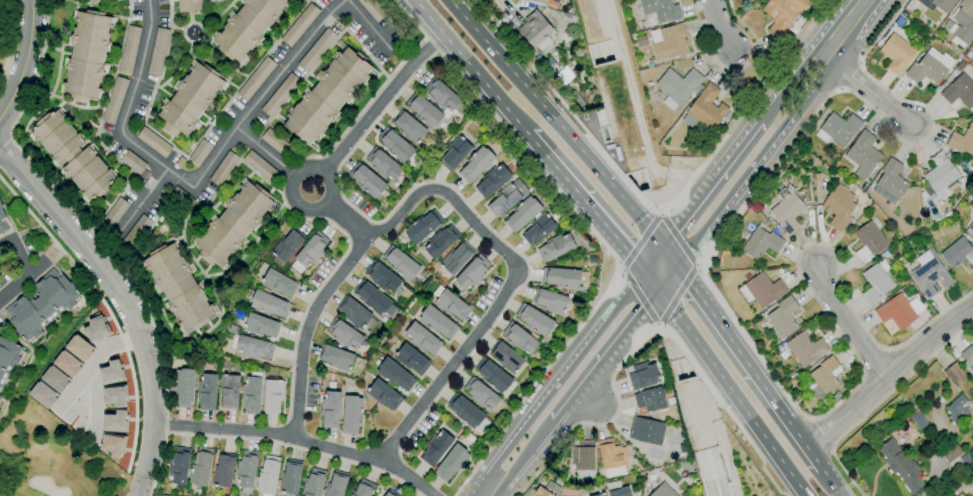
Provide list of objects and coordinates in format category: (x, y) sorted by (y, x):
building: (94, 0)
building: (543, 2)
building: (937, 4)
building: (189, 6)
building: (373, 9)
building: (661, 10)
building: (783, 14)
road: (427, 17)
building: (962, 22)
building: (299, 24)
road: (719, 24)
building: (248, 26)
road: (370, 26)
road: (842, 27)
building: (536, 30)
park: (9, 40)
building: (668, 42)
road: (13, 44)
building: (972, 48)
building: (129, 49)
building: (317, 50)
railway: (606, 51)
building: (158, 52)
building: (897, 53)
railway: (595, 54)
building: (86, 55)
road: (23, 58)
building: (930, 67)
road: (758, 68)
road: (800, 69)
road: (734, 71)
building: (256, 79)
building: (678, 86)
road: (866, 88)
road: (491, 90)
building: (959, 91)
building: (442, 94)
building: (280, 95)
building: (327, 96)
road: (556, 97)
building: (190, 99)
building: (114, 100)
road: (380, 102)
road: (772, 105)
building: (705, 109)
building: (424, 110)
road: (738, 120)
road: (553, 121)
building: (409, 127)
building: (839, 129)
building: (962, 140)
building: (153, 142)
road: (5, 143)
building: (278, 144)
building: (396, 145)
building: (200, 152)
road: (265, 153)
building: (455, 153)
building: (73, 155)
building: (863, 155)
building: (133, 162)
road: (754, 162)
building: (383, 164)
building: (476, 164)
building: (260, 166)
building: (223, 169)
road: (309, 170)
building: (144, 174)
building: (939, 176)
railway: (628, 177)
building: (367, 179)
building: (891, 179)
railway: (641, 180)
road: (196, 181)
building: (492, 181)
road: (711, 183)
building: (181, 198)
building: (506, 198)
road: (139, 203)
building: (971, 204)
building: (1, 206)
building: (840, 206)
road: (591, 208)
building: (787, 209)
building: (522, 214)
building: (113, 215)
road: (347, 220)
building: (234, 223)
building: (3, 224)
building: (423, 227)
building: (970, 229)
building: (538, 230)
building: (136, 231)
road: (677, 238)
road: (96, 239)
building: (869, 239)
road: (639, 240)
building: (441, 241)
road: (599, 241)
building: (761, 243)
building: (288, 244)
traffic signals: (662, 244)
parking lot: (27, 245)
building: (555, 247)
road: (60, 250)
road: (106, 250)
building: (309, 252)
building: (958, 253)
road: (669, 255)
road: (652, 257)
building: (455, 259)
building: (401, 264)
traffic signals: (677, 266)
parking lot: (6, 268)
road: (22, 270)
road: (35, 270)
traffic signals: (642, 271)
building: (472, 272)
building: (929, 274)
building: (383, 277)
building: (564, 277)
road: (667, 279)
road: (650, 281)
building: (876, 282)
building: (279, 283)
road: (511, 283)
building: (178, 287)
building: (761, 290)
traffic signals: (658, 292)
road: (676, 296)
road: (639, 297)
building: (374, 299)
building: (550, 301)
road: (125, 303)
building: (267, 303)
building: (450, 303)
building: (41, 305)
road: (108, 310)
building: (899, 311)
building: (356, 313)
building: (784, 317)
building: (534, 319)
road: (732, 320)
building: (437, 322)
road: (847, 323)
building: (261, 325)
road: (306, 328)
building: (94, 330)
building: (345, 334)
building: (422, 338)
building: (520, 339)
building: (252, 347)
building: (79, 348)
building: (806, 348)
road: (604, 355)
building: (968, 356)
building: (337, 357)
building: (506, 357)
building: (8, 358)
building: (411, 359)
road: (92, 364)
road: (748, 364)
road: (25, 365)
railway: (678, 370)
building: (109, 371)
railway: (690, 373)
building: (955, 374)
building: (395, 375)
building: (493, 375)
building: (644, 375)
road: (889, 376)
building: (54, 379)
building: (824, 379)
road: (558, 380)
building: (184, 387)
building: (207, 391)
building: (229, 391)
road: (730, 393)
building: (252, 394)
building: (384, 394)
building: (481, 394)
building: (0, 396)
building: (273, 396)
road: (586, 396)
building: (650, 400)
road: (879, 401)
road: (95, 402)
road: (618, 405)
building: (114, 408)
building: (330, 409)
building: (957, 410)
building: (465, 411)
building: (351, 414)
building: (919, 421)
road: (742, 430)
building: (647, 431)
road: (821, 433)
road: (296, 438)
building: (112, 445)
building: (436, 448)
building: (956, 455)
building: (611, 458)
park: (51, 459)
road: (521, 459)
building: (585, 459)
building: (452, 463)
building: (179, 466)
building: (901, 466)
building: (201, 467)
building: (247, 469)
building: (223, 471)
railway: (717, 471)
railway: (705, 473)
building: (267, 475)
building: (290, 478)
road: (831, 480)
building: (314, 483)
building: (337, 485)
building: (363, 488)
building: (617, 489)
building: (543, 490)
building: (663, 491)
building: (391, 493)
building: (600, 495)
building: (959, 495)

